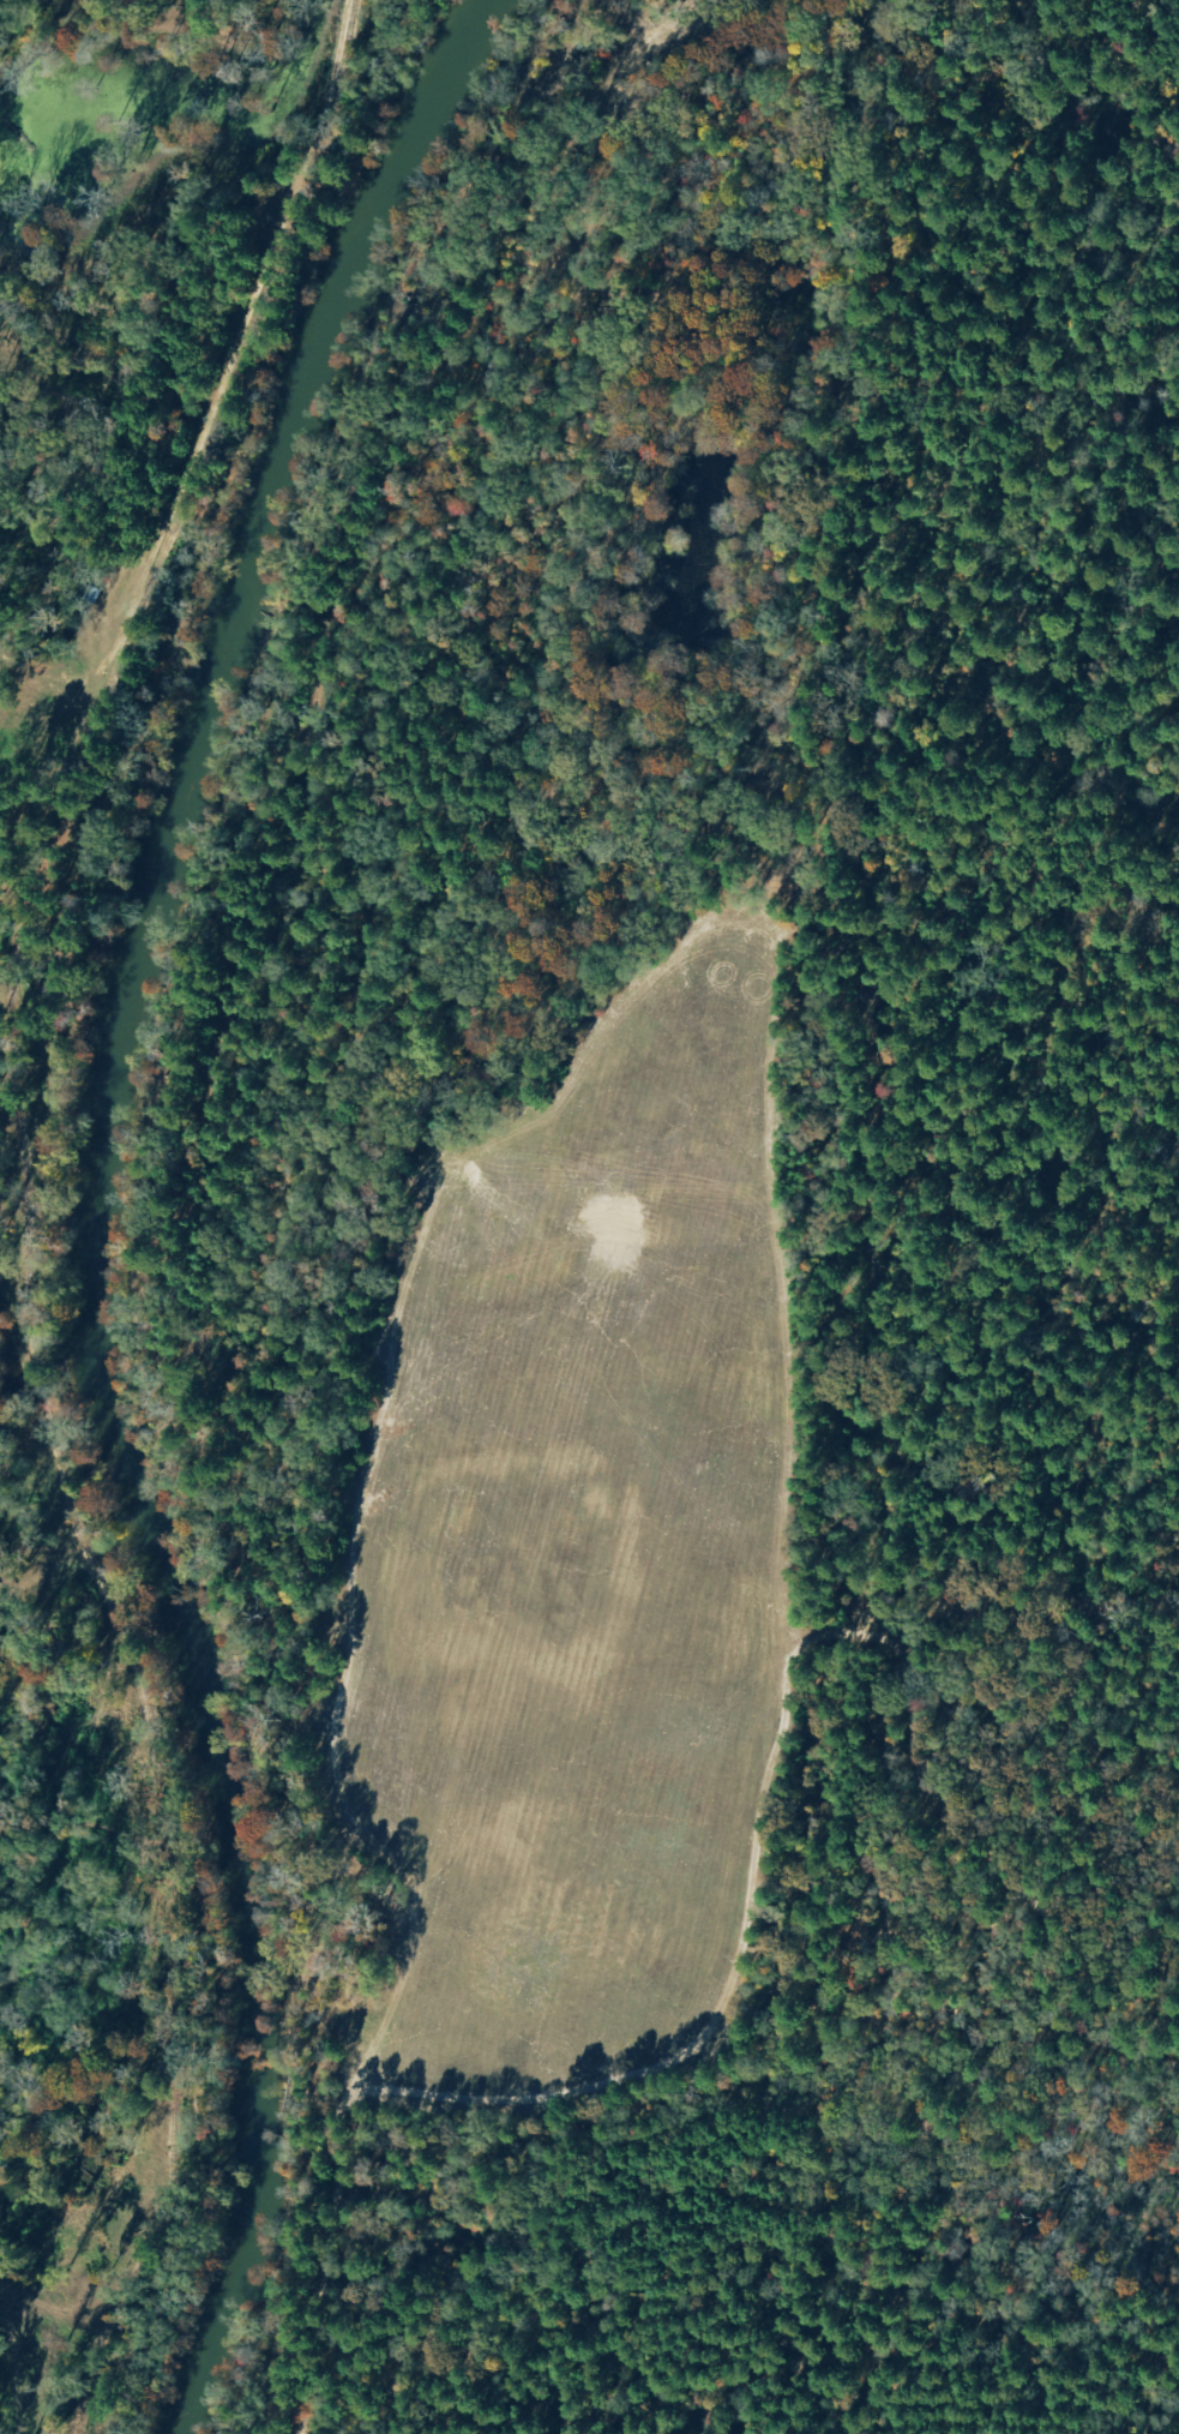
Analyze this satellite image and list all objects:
river: (107, 1197)
railway: (24, 1206)

